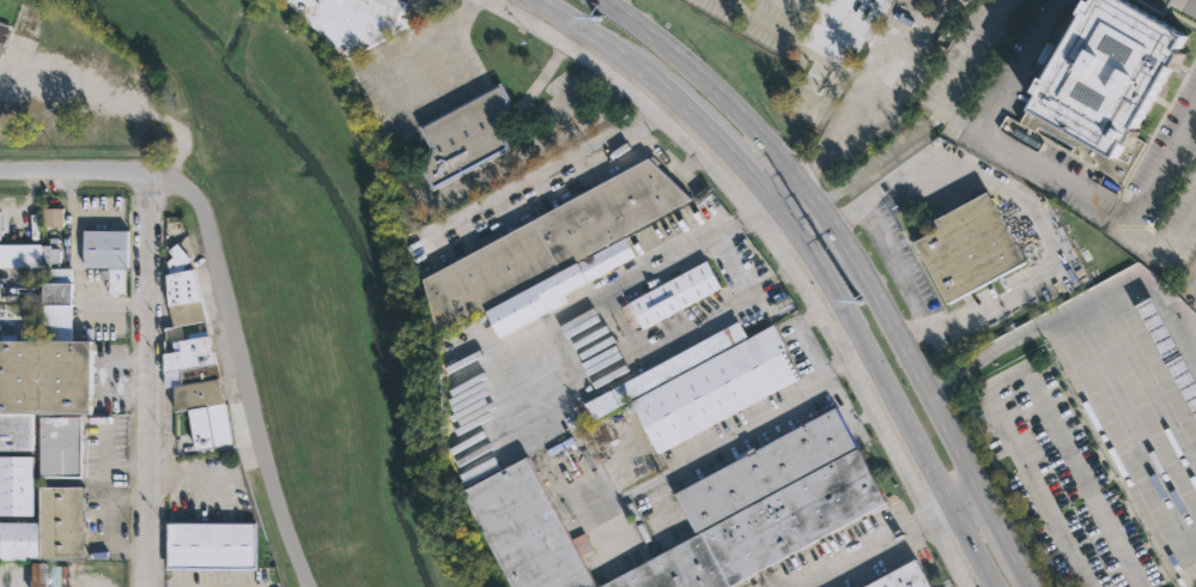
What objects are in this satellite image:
power tower: (595, 17)
building: (25, 20)
building: (351, 20)
road: (854, 24)
building: (2, 32)
road: (788, 46)
road: (542, 74)
road: (868, 81)
building: (1110, 83)
road: (80, 89)
building: (465, 134)
road: (181, 143)
road: (900, 143)
road: (1049, 167)
road: (542, 171)
road: (119, 173)
road: (423, 194)
road: (796, 204)
road: (1028, 207)
building: (547, 242)
building: (967, 246)
building: (105, 249)
road: (781, 249)
building: (28, 255)
road: (807, 262)
road: (862, 266)
road: (793, 270)
road: (1190, 273)
building: (114, 280)
building: (554, 286)
road: (760, 288)
building: (669, 295)
building: (181, 297)
power tower: (856, 299)
building: (54, 302)
road: (1079, 308)
road: (550, 327)
building: (1168, 350)
road: (811, 359)
road: (1019, 375)
road: (146, 380)
building: (41, 386)
building: (714, 388)
building: (196, 391)
road: (261, 407)
road: (748, 417)
road: (1124, 440)
building: (61, 447)
building: (764, 468)
building: (16, 485)
road: (973, 506)
building: (61, 524)
building: (524, 529)
building: (764, 529)
building: (19, 541)
building: (208, 545)
road: (860, 551)
building: (41, 574)
building: (0, 576)
building: (901, 577)

